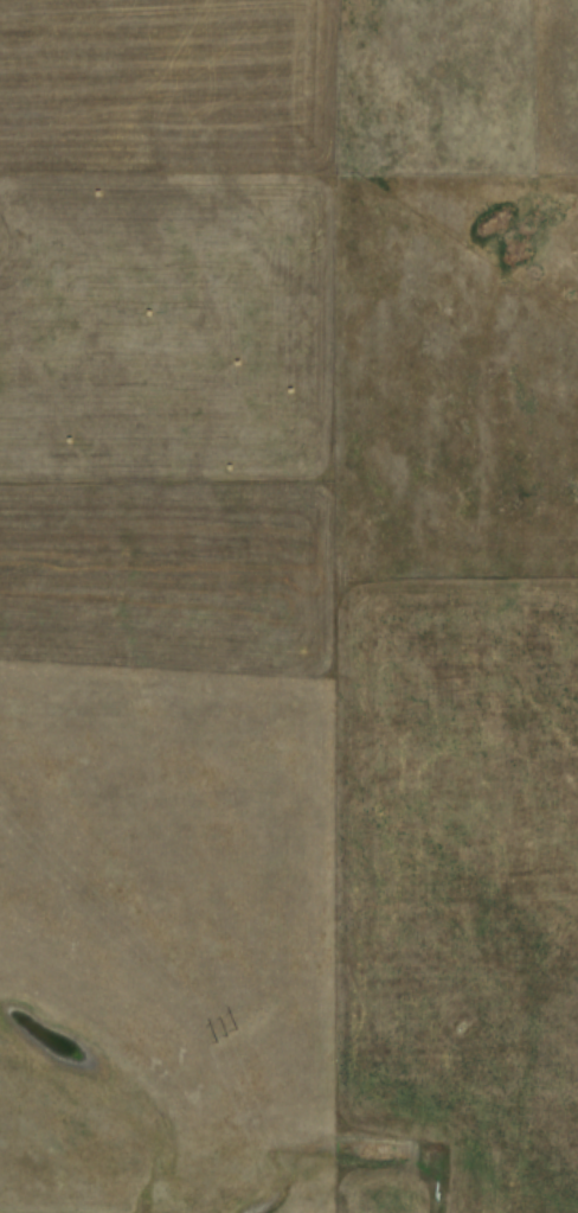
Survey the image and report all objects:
power tower: (224, 1035)

